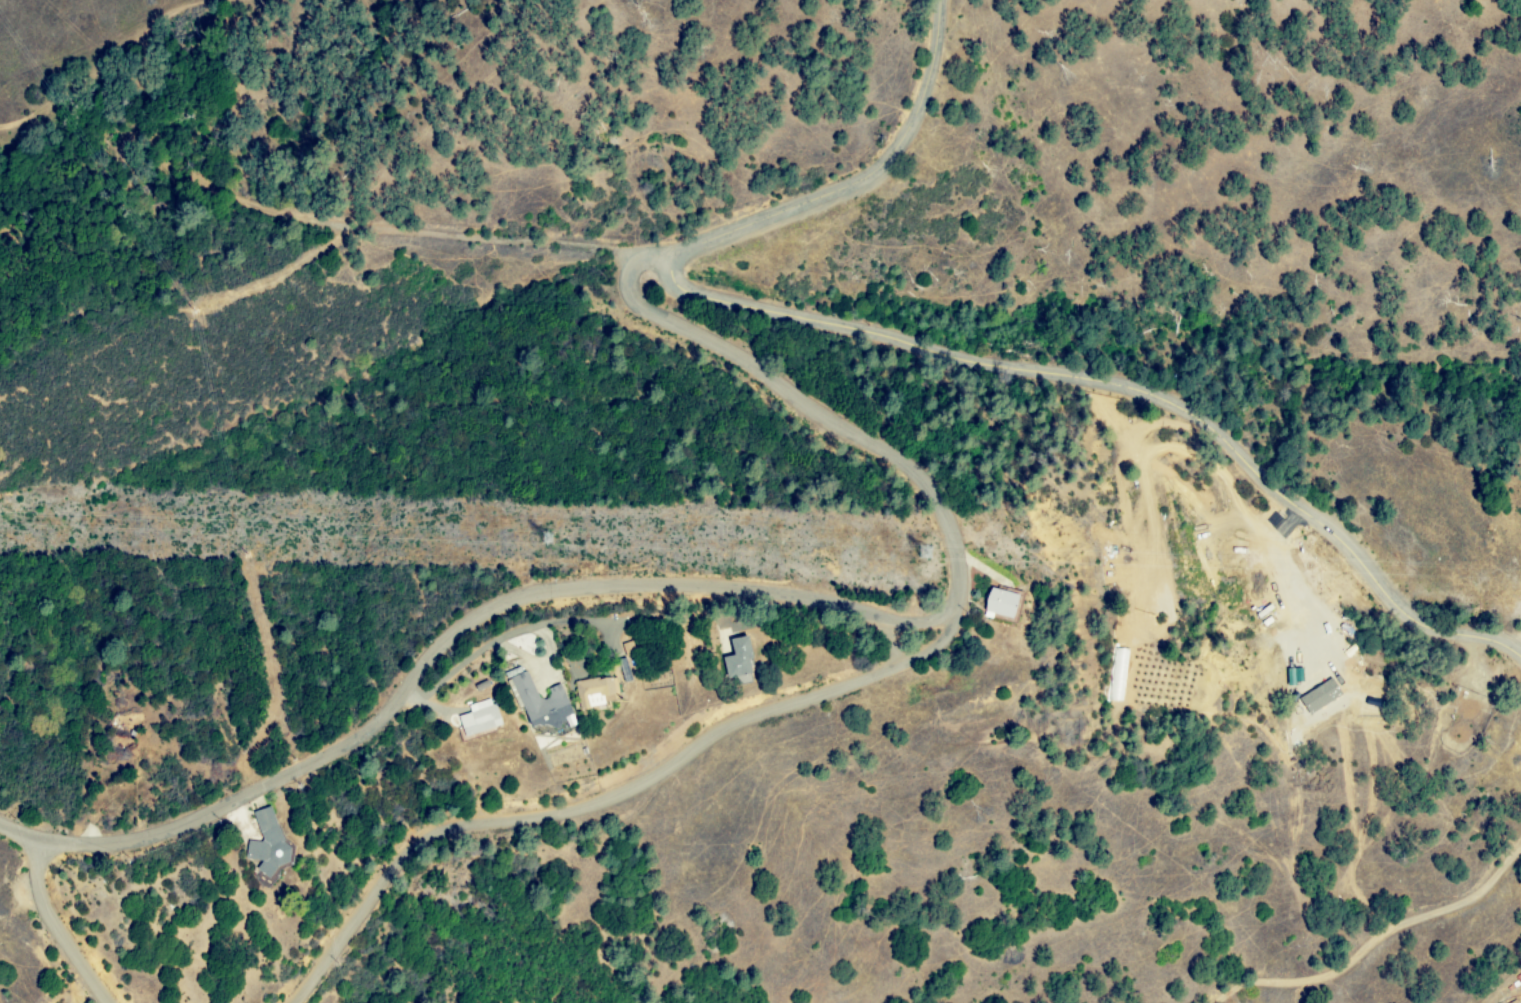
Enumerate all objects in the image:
road: (925, 346)
power tower: (567, 561)
power tower: (942, 575)
road: (720, 585)
building: (1001, 603)
building: (739, 658)
building: (595, 691)
building: (542, 702)
building: (480, 718)
road: (612, 799)
building: (268, 844)
road: (55, 926)
road: (1377, 941)

